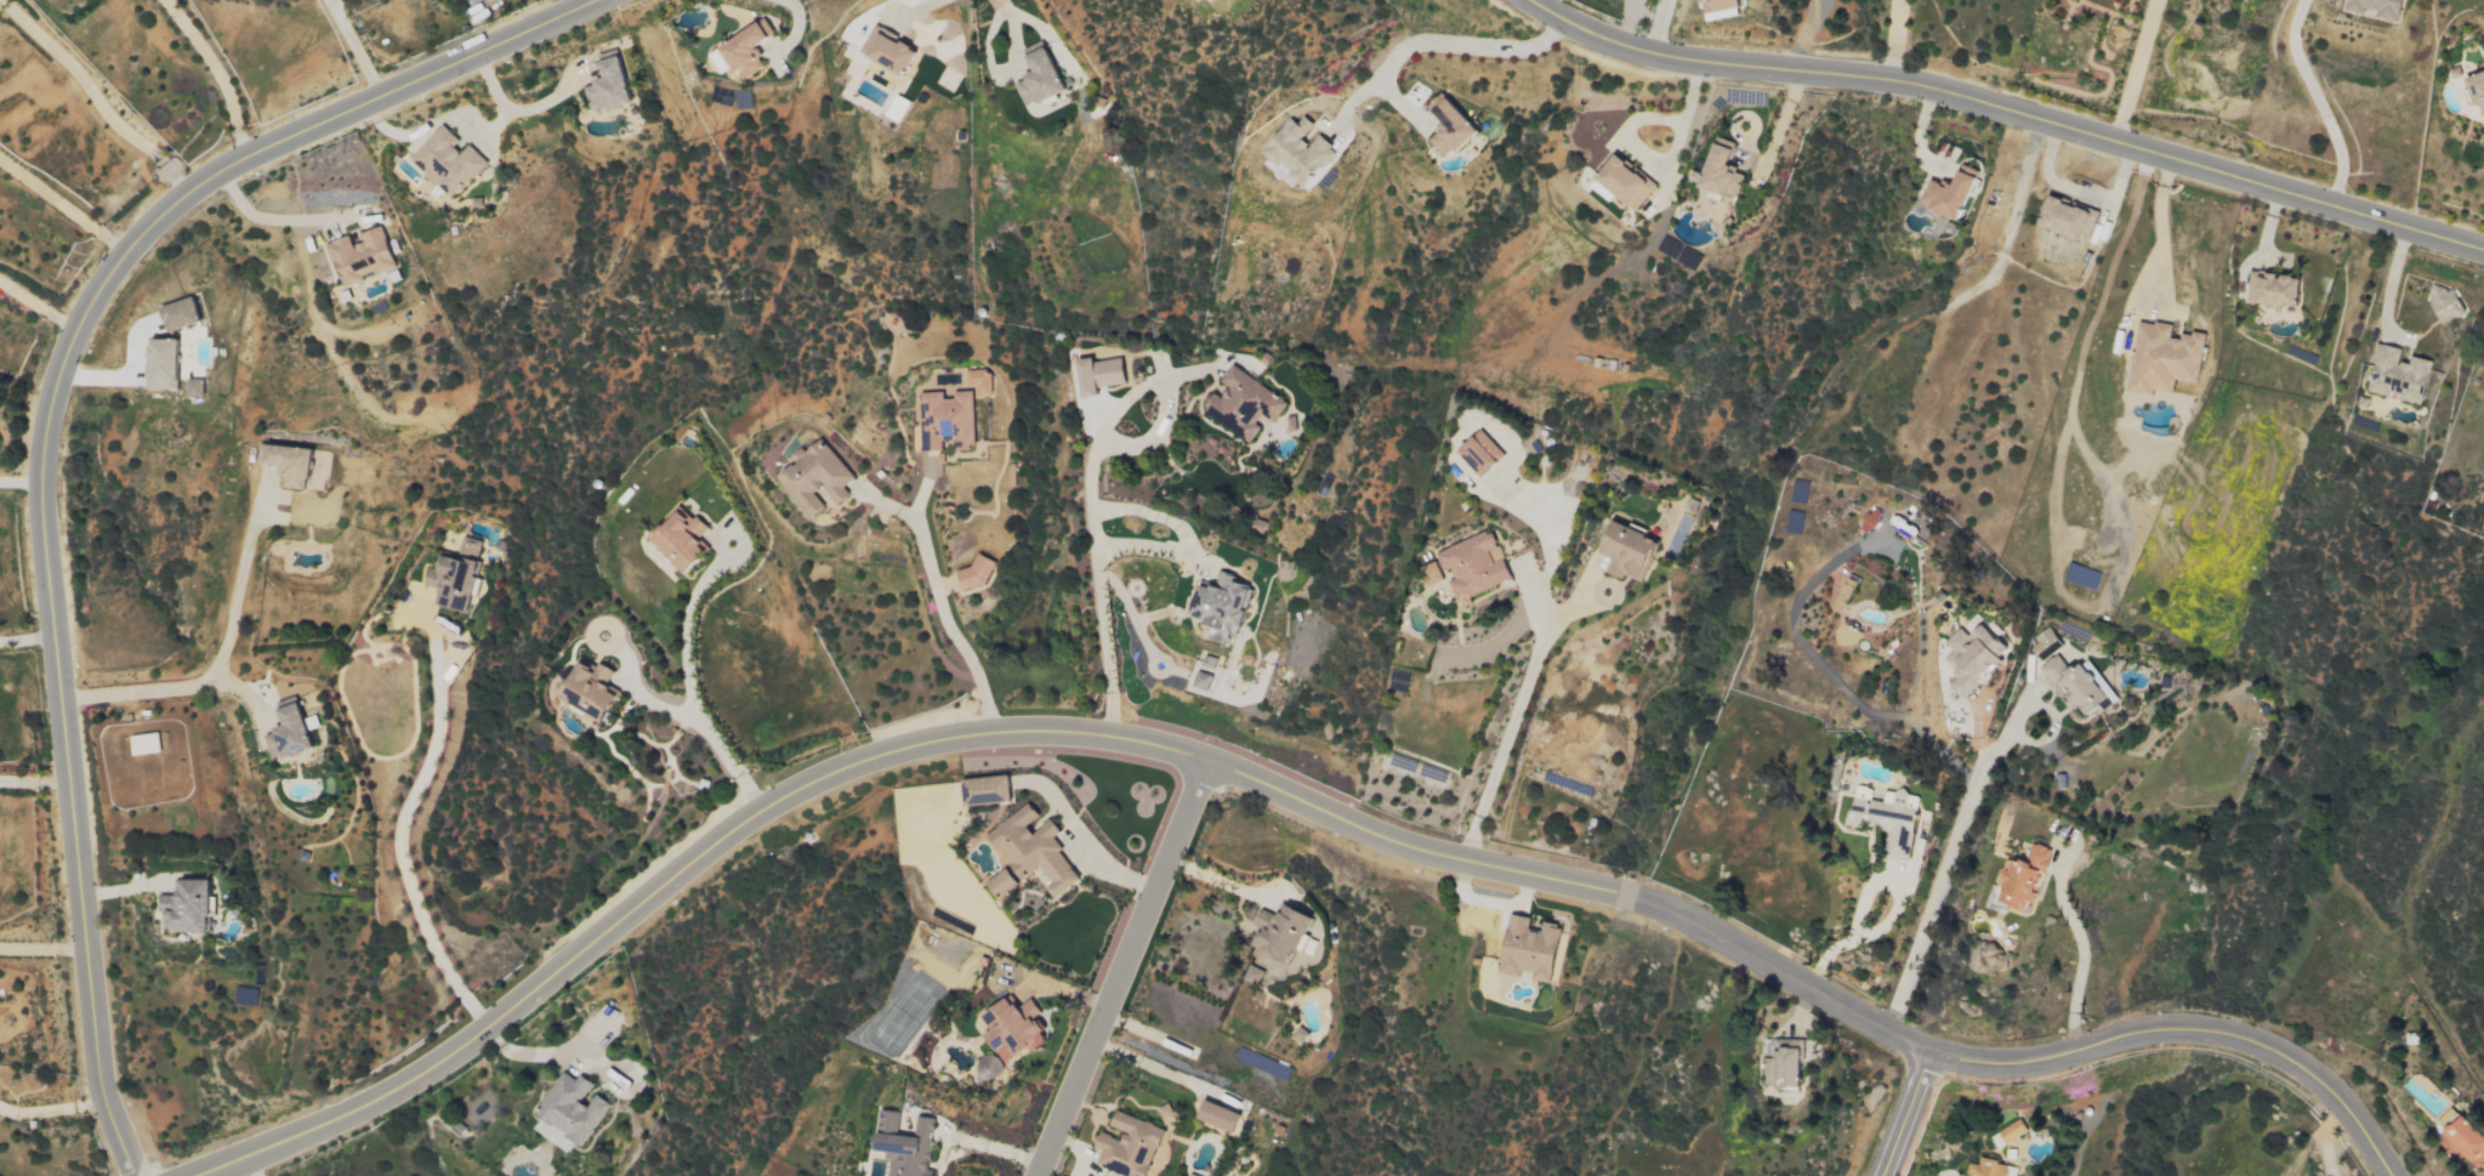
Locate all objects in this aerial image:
road: (579, 2)
building: (1722, 5)
building: (2382, 7)
road: (914, 8)
road: (774, 24)
road: (1653, 24)
road: (1014, 29)
road: (1802, 33)
road: (1894, 39)
road: (1436, 41)
road: (356, 49)
building: (892, 50)
building: (745, 51)
road: (2116, 67)
road: (217, 73)
building: (1044, 79)
building: (612, 84)
building: (2479, 89)
road: (96, 98)
road: (2318, 101)
road: (2016, 110)
road: (505, 113)
building: (1454, 125)
road: (491, 129)
building: (1298, 154)
building: (449, 161)
road: (1658, 161)
building: (1724, 170)
building: (1630, 181)
building: (1955, 193)
road: (61, 204)
building: (2071, 217)
road: (271, 221)
road: (2160, 229)
building: (364, 256)
road: (2389, 285)
building: (2278, 289)
road: (39, 303)
building: (182, 314)
building: (2167, 358)
building: (166, 364)
building: (1103, 375)
building: (2403, 375)
building: (982, 381)
building: (198, 387)
building: (1247, 404)
road: (45, 441)
building: (1483, 454)
building: (299, 465)
road: (19, 478)
building: (820, 478)
road: (887, 505)
road: (1556, 524)
road: (1091, 528)
building: (686, 540)
road: (1146, 544)
building: (1632, 552)
building: (1477, 567)
building: (1433, 573)
building: (978, 574)
building: (459, 575)
road: (1199, 578)
road: (1534, 590)
building: (1847, 593)
building: (1228, 601)
road: (939, 604)
road: (25, 638)
building: (1980, 663)
road: (1829, 669)
road: (210, 671)
building: (2075, 677)
road: (688, 680)
building: (595, 688)
road: (635, 691)
road: (1510, 718)
building: (294, 732)
building: (147, 744)
road: (866, 761)
road: (33, 779)
building: (989, 790)
building: (1888, 819)
road: (402, 836)
building: (1038, 848)
road: (1080, 854)
road: (1957, 857)
building: (2027, 879)
building: (1005, 882)
building: (192, 907)
building: (1279, 943)
road: (40, 944)
building: (1534, 949)
road: (1119, 970)
road: (2079, 973)
road: (1065, 992)
building: (1017, 1028)
building: (1303, 1035)
road: (559, 1051)
road: (2017, 1066)
building: (990, 1067)
building: (1789, 1069)
road: (51, 1108)
building: (572, 1110)
road: (1911, 1115)
building: (1223, 1117)
building: (2014, 1131)
road: (2324, 1138)
building: (2467, 1142)
road: (985, 1144)
building: (909, 1146)
building: (1132, 1147)
road: (252, 1168)
building: (1990, 1169)
building: (1194, 1175)

